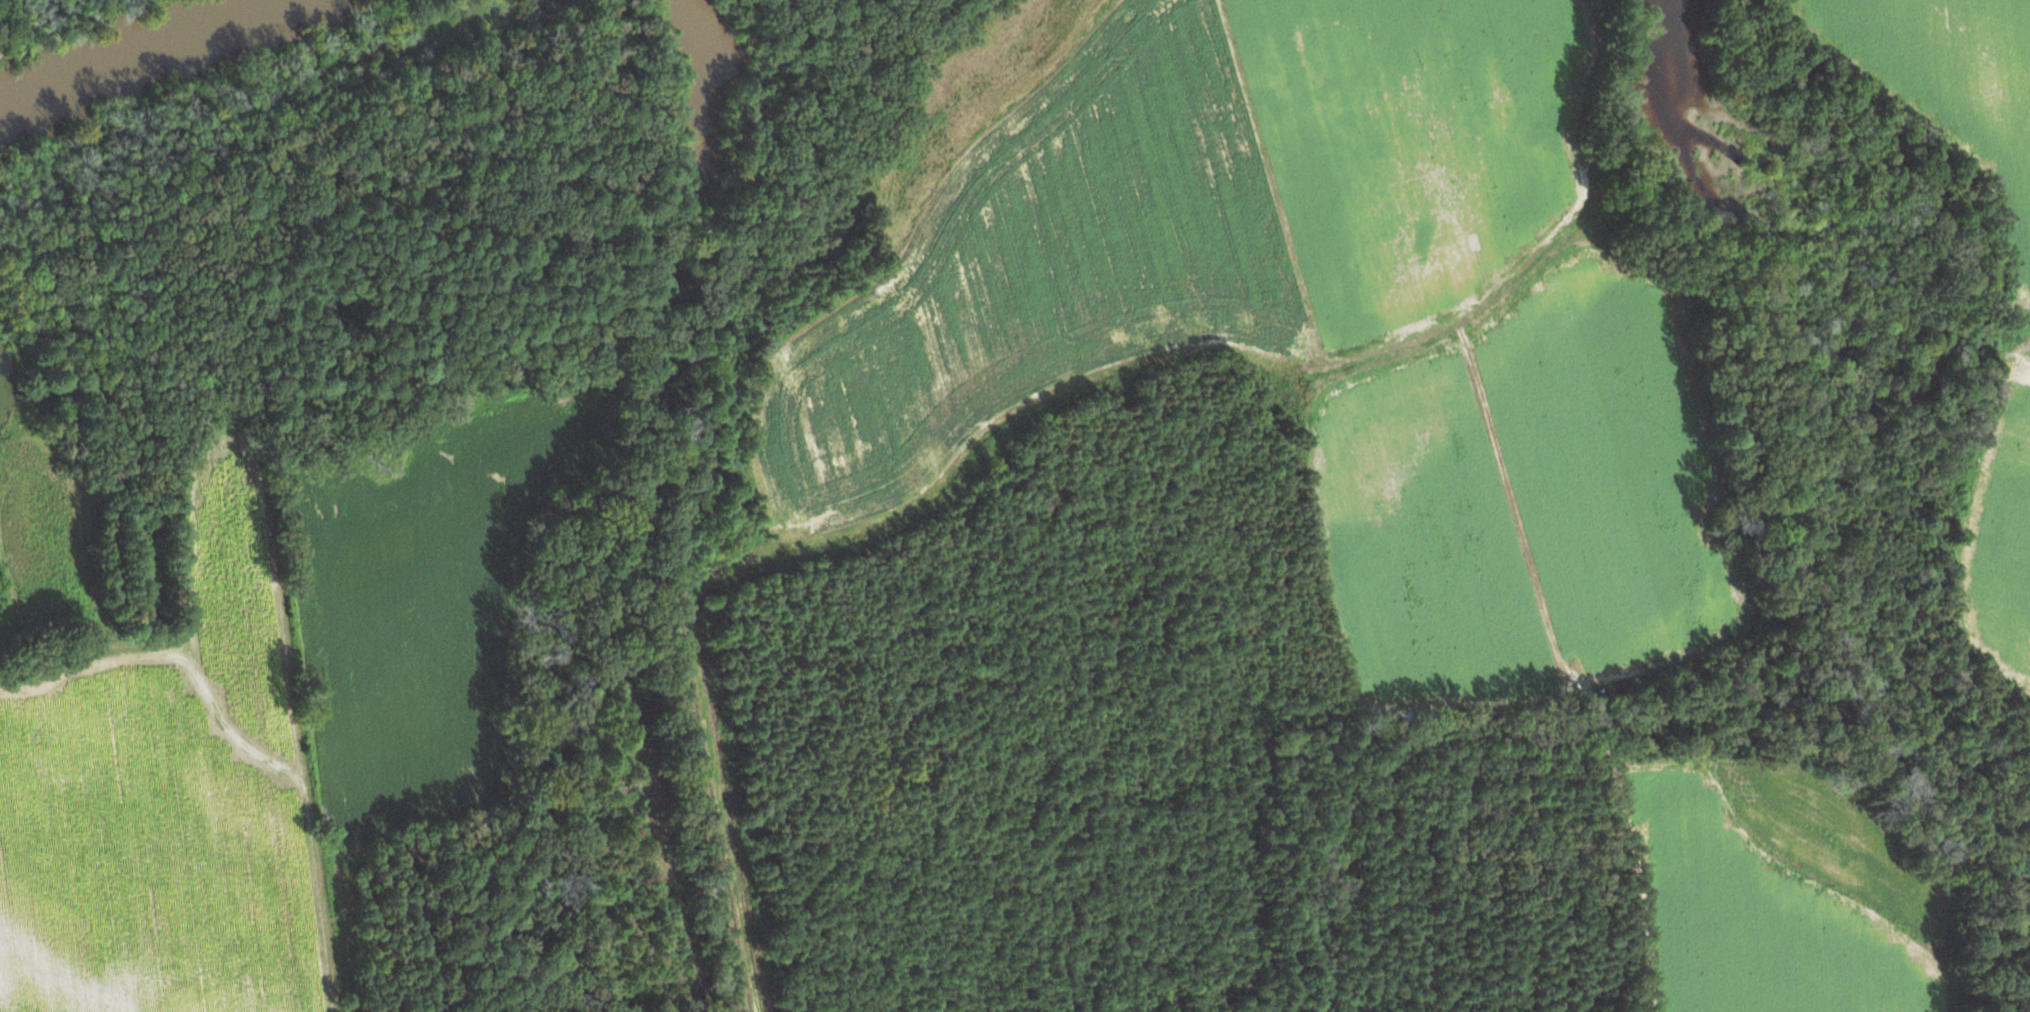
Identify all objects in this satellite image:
river: (132, 51)

